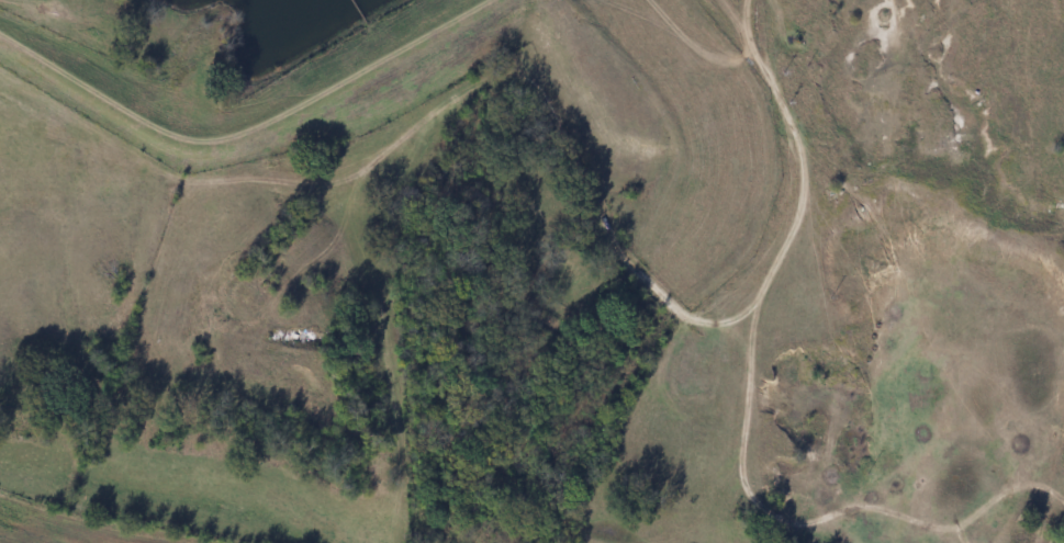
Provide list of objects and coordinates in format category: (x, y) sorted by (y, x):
road: (707, 92)

